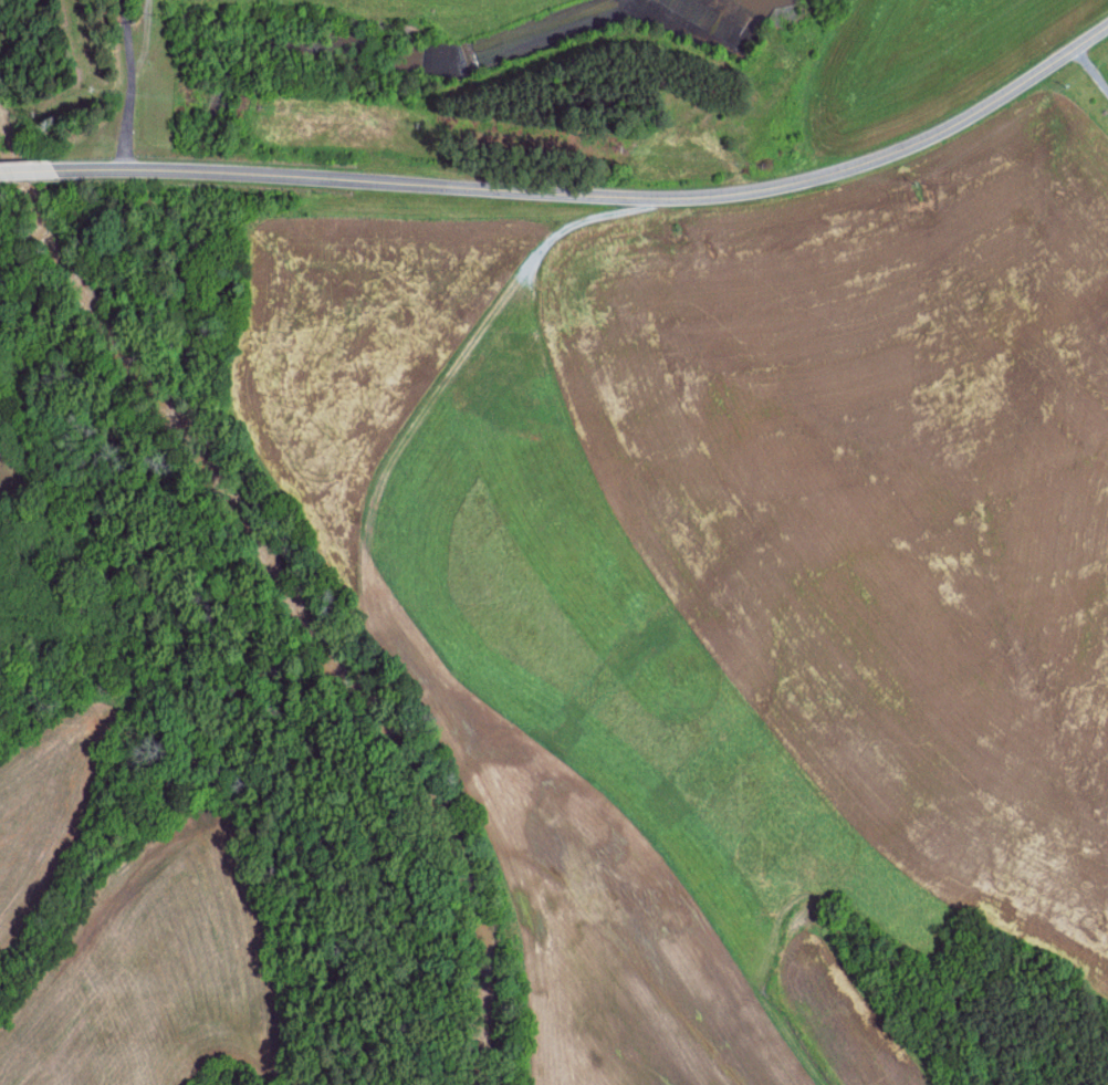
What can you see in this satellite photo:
road: (1093, 66)
road: (117, 84)
road: (28, 170)
road: (602, 194)

